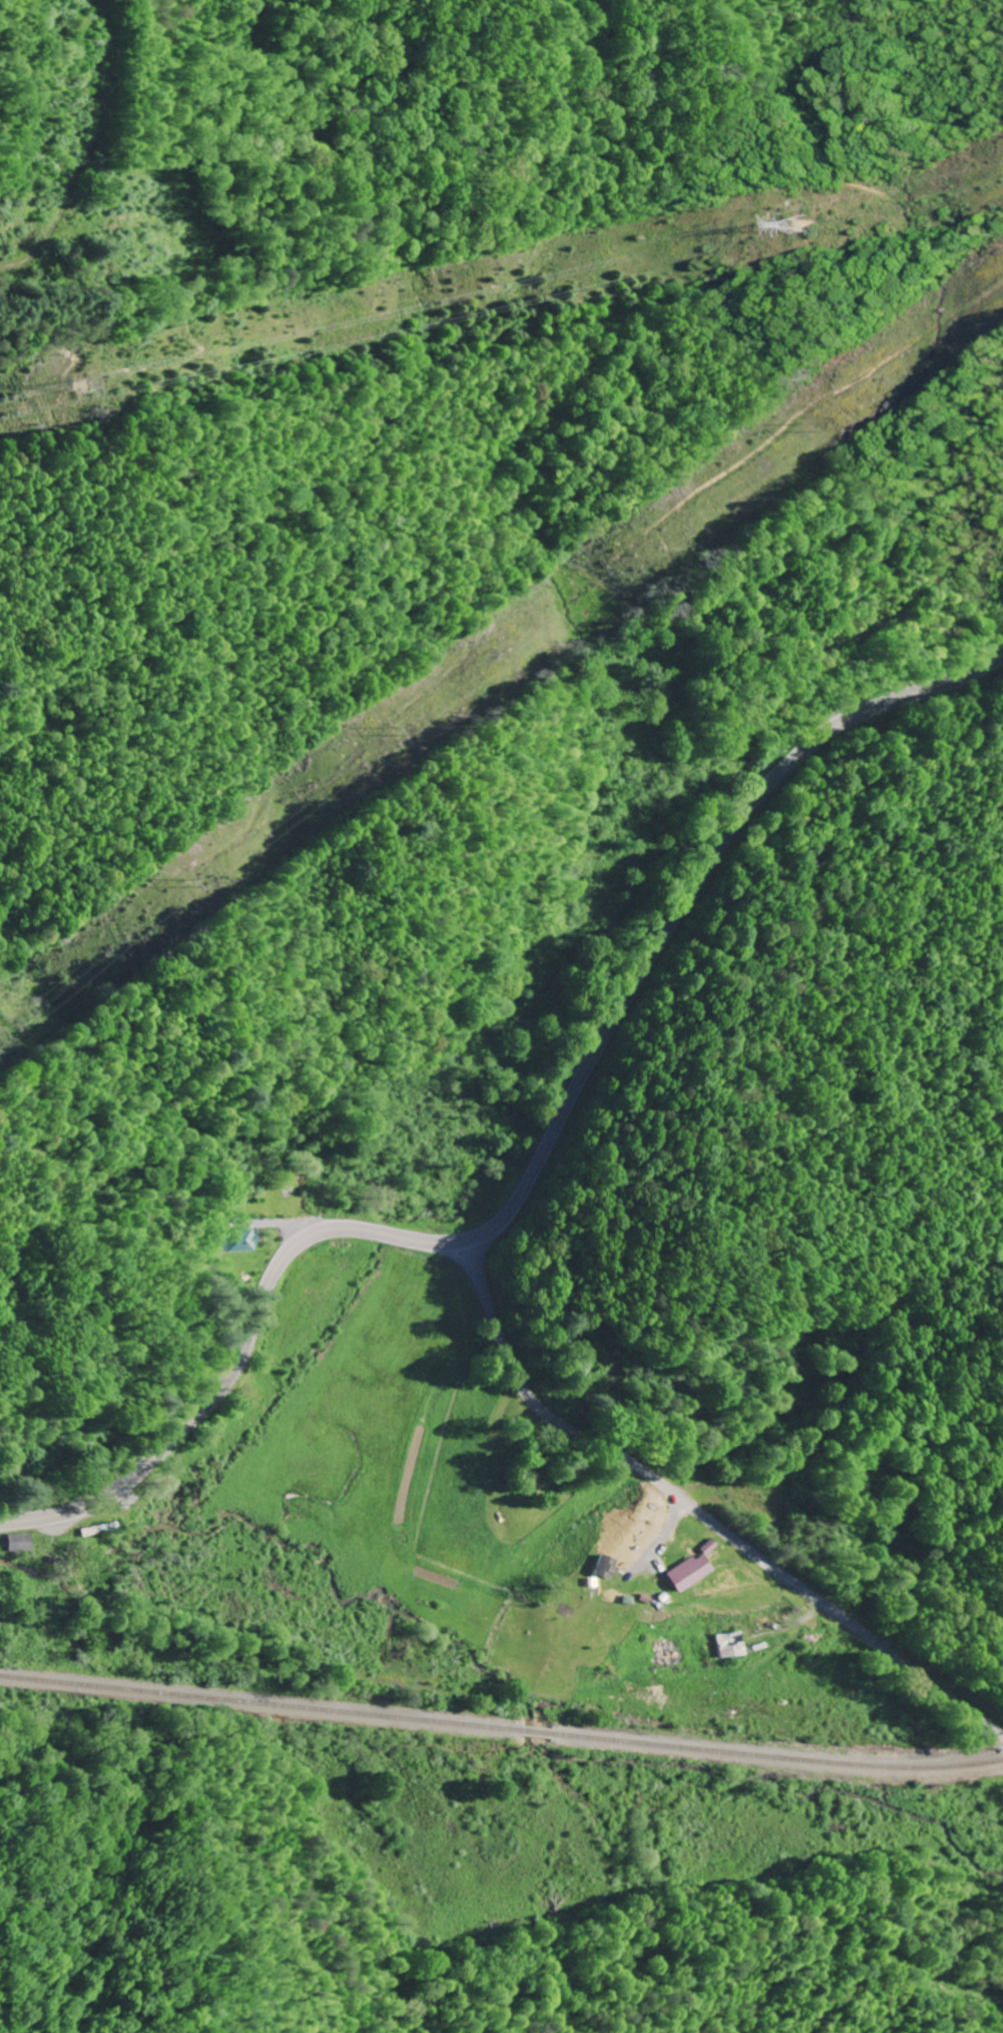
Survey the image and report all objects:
road: (93, 141)
power tower: (801, 225)
power tower: (79, 385)
road: (147, 1133)
road: (538, 1164)
building: (239, 1239)
road: (699, 1511)
building: (94, 1529)
building: (19, 1541)
building: (606, 1567)
building: (688, 1571)
building: (730, 1643)
railway: (501, 1728)

